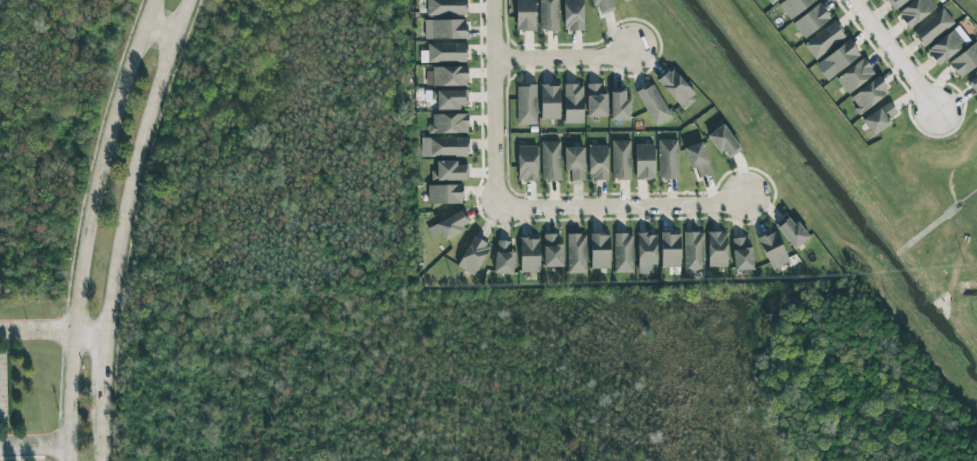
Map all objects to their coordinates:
building: (772, 1)
building: (895, 3)
building: (603, 6)
building: (793, 6)
building: (445, 7)
building: (915, 11)
building: (524, 15)
building: (548, 15)
building: (572, 15)
building: (811, 20)
building: (932, 27)
building: (445, 29)
road: (158, 30)
building: (824, 40)
building: (947, 45)
building: (444, 53)
road: (562, 56)
road: (895, 57)
building: (837, 60)
building: (964, 60)
building: (855, 75)
building: (446, 77)
building: (974, 83)
building: (677, 89)
building: (868, 95)
building: (450, 99)
road: (493, 100)
building: (595, 101)
building: (549, 102)
building: (573, 104)
building: (653, 104)
building: (526, 105)
building: (619, 105)
building: (879, 118)
building: (448, 123)
building: (724, 142)
building: (448, 147)
building: (697, 158)
building: (620, 159)
building: (667, 159)
building: (550, 160)
building: (644, 161)
building: (574, 162)
building: (597, 162)
building: (526, 163)
road: (134, 165)
building: (449, 171)
building: (444, 194)
road: (620, 205)
building: (449, 225)
road: (86, 226)
building: (792, 232)
building: (717, 249)
building: (551, 250)
building: (669, 250)
building: (599, 251)
building: (773, 251)
building: (693, 252)
building: (576, 253)
building: (623, 253)
building: (646, 253)
building: (529, 254)
building: (741, 254)
building: (473, 255)
building: (503, 258)
road: (36, 330)
road: (88, 334)
road: (102, 375)
road: (100, 438)
road: (33, 445)

